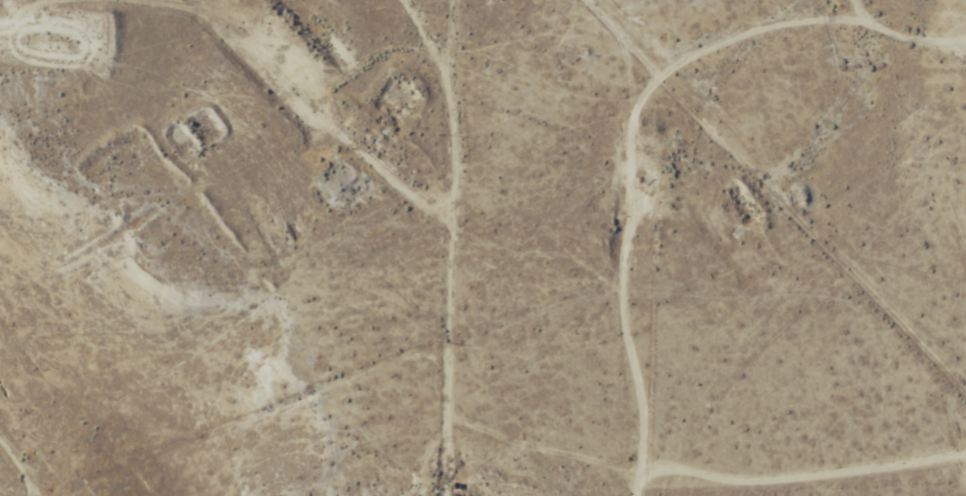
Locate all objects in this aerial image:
road: (780, 204)

